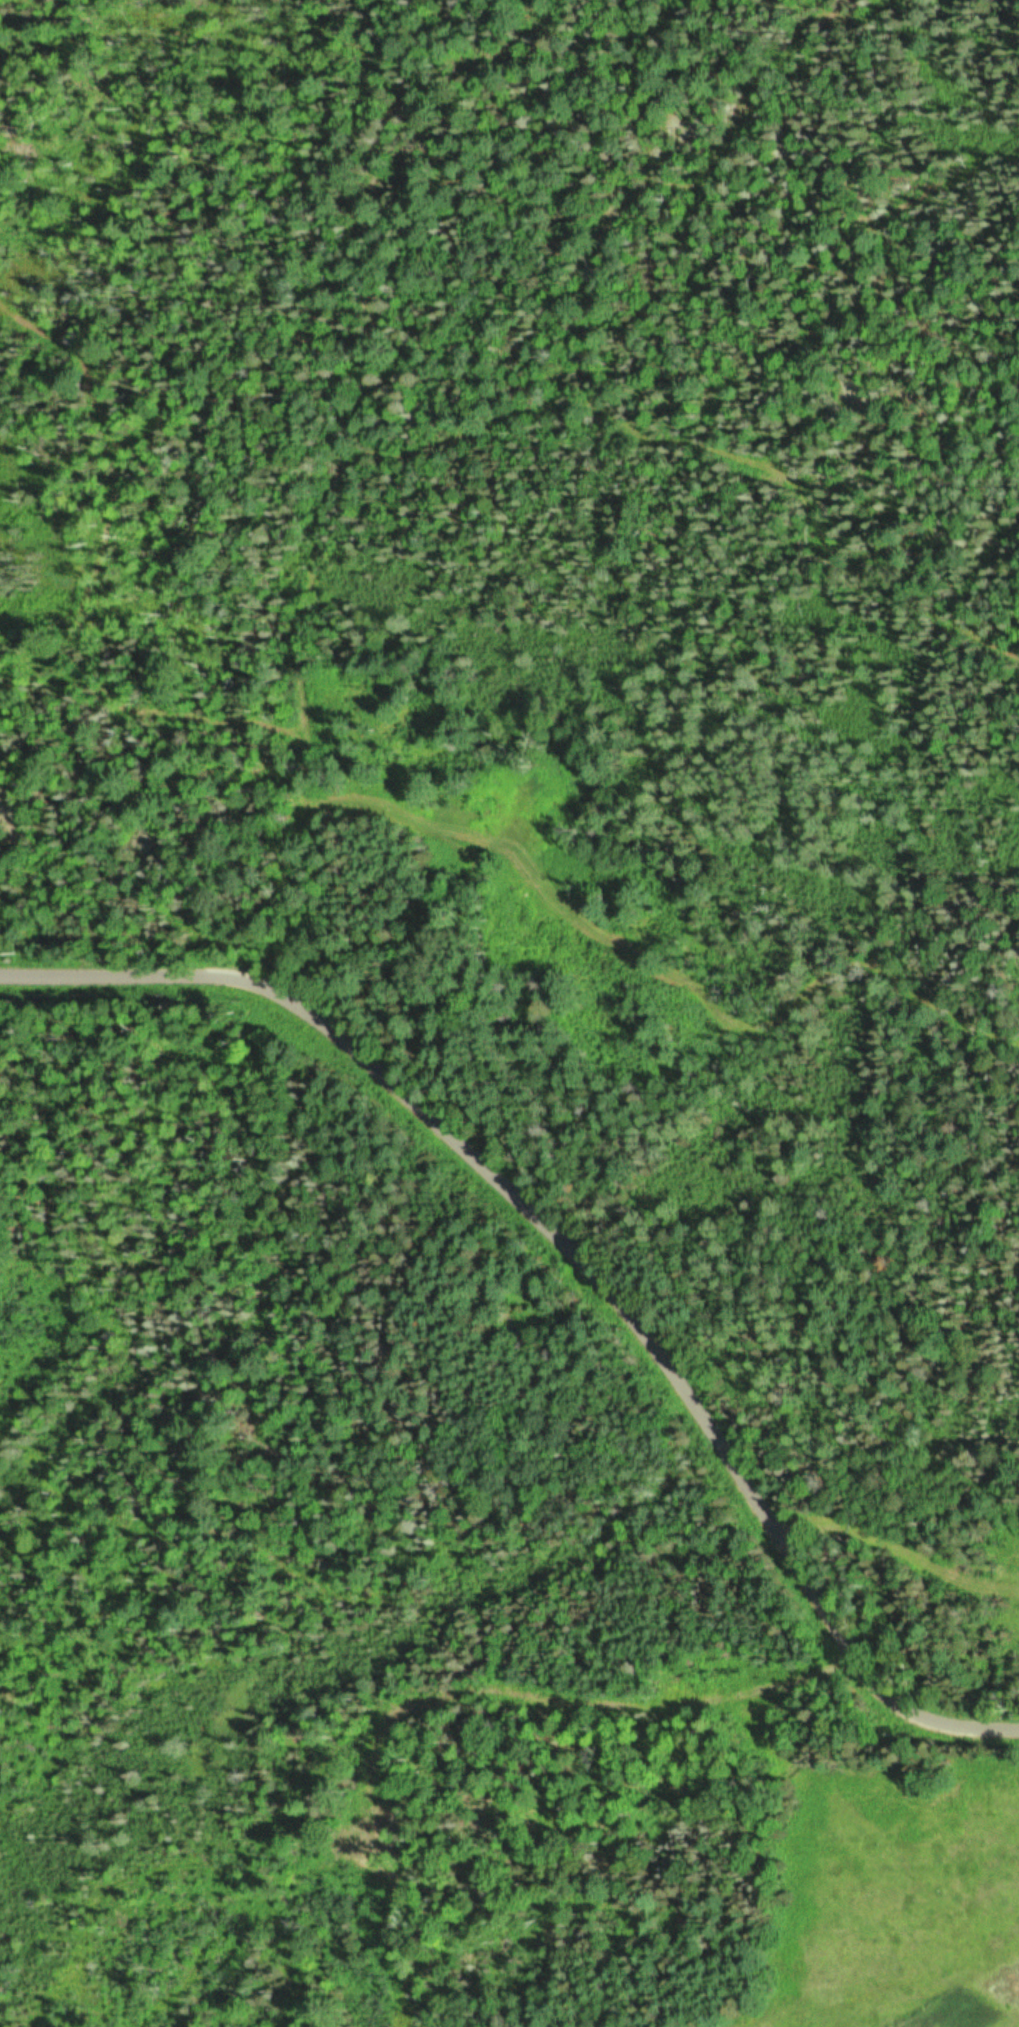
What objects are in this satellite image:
road: (581, 1252)
road: (904, 1548)

